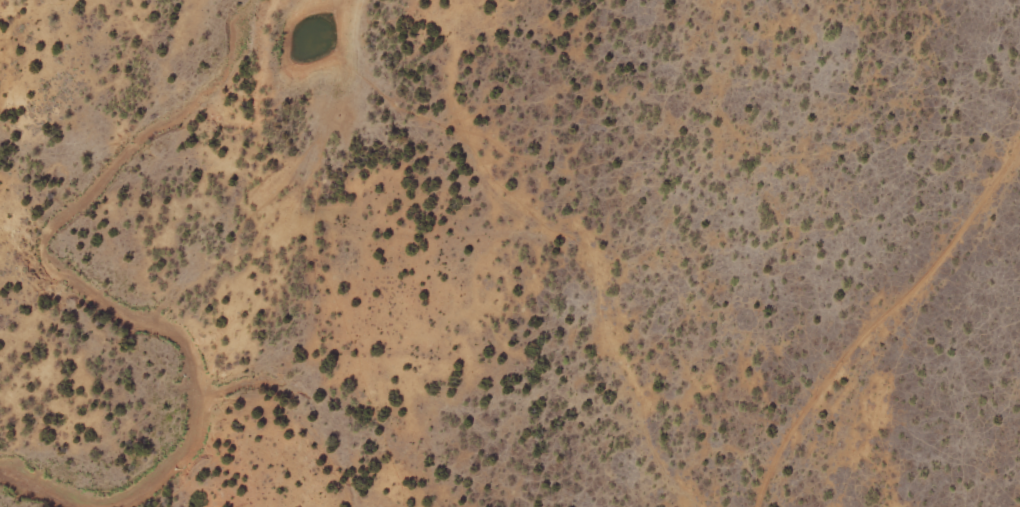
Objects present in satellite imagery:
road: (895, 346)

